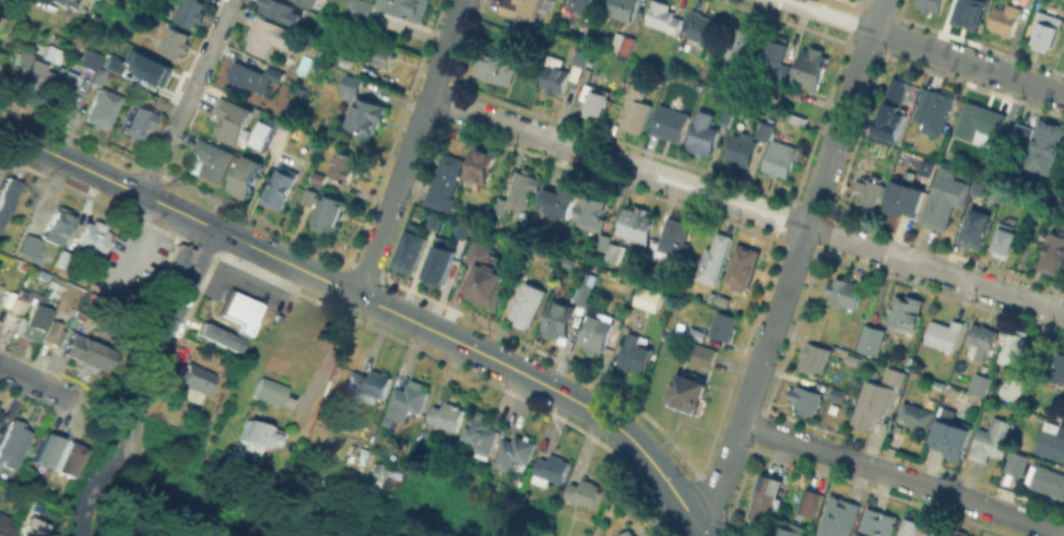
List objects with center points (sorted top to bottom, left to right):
building: (310, 3)
building: (68, 4)
building: (580, 4)
building: (933, 5)
building: (407, 9)
building: (624, 10)
building: (282, 11)
building: (191, 12)
building: (360, 12)
building: (528, 12)
building: (967, 13)
building: (663, 20)
building: (1005, 20)
building: (1047, 28)
building: (701, 33)
building: (271, 37)
building: (175, 43)
building: (741, 44)
building: (628, 47)
road: (924, 47)
building: (56, 55)
building: (379, 55)
building: (91, 60)
building: (776, 61)
building: (115, 65)
building: (813, 69)
building: (498, 70)
building: (154, 71)
building: (25, 72)
building: (564, 73)
building: (256, 79)
building: (348, 83)
building: (60, 91)
building: (796, 93)
road: (187, 97)
building: (595, 100)
building: (895, 106)
building: (103, 109)
building: (637, 111)
building: (937, 111)
building: (729, 116)
building: (366, 117)
building: (234, 120)
building: (799, 120)
building: (981, 121)
building: (138, 123)
building: (671, 124)
building: (267, 133)
building: (704, 134)
building: (1024, 134)
building: (748, 145)
building: (1044, 146)
road: (410, 147)
building: (781, 160)
building: (211, 165)
building: (341, 166)
building: (482, 166)
building: (1062, 174)
road: (108, 178)
building: (248, 178)
building: (319, 181)
building: (445, 182)
building: (282, 189)
building: (871, 189)
building: (524, 190)
building: (8, 196)
building: (905, 198)
building: (945, 199)
building: (309, 200)
building: (559, 203)
building: (498, 205)
road: (745, 206)
building: (594, 212)
building: (328, 216)
building: (433, 219)
building: (1063, 219)
building: (639, 225)
building: (59, 226)
building: (978, 226)
building: (459, 228)
building: (1006, 239)
building: (91, 242)
building: (671, 242)
building: (29, 248)
building: (409, 248)
building: (613, 251)
building: (1054, 255)
building: (63, 260)
building: (437, 261)
building: (714, 261)
road: (794, 262)
building: (177, 267)
building: (743, 269)
building: (487, 278)
road: (193, 279)
building: (52, 286)
building: (0, 289)
building: (847, 293)
building: (586, 296)
building: (648, 298)
building: (19, 305)
building: (527, 309)
building: (236, 311)
building: (906, 312)
building: (35, 318)
building: (560, 319)
building: (10, 323)
building: (724, 327)
building: (54, 333)
building: (596, 334)
building: (698, 335)
building: (944, 335)
building: (220, 338)
building: (872, 340)
building: (982, 342)
building: (1015, 347)
building: (83, 352)
road: (483, 353)
building: (637, 354)
building: (704, 356)
road: (329, 359)
building: (815, 359)
building: (1057, 367)
building: (895, 376)
road: (35, 381)
building: (199, 383)
building: (981, 384)
building: (370, 386)
building: (1012, 386)
building: (838, 392)
building: (271, 393)
building: (689, 395)
building: (807, 400)
road: (141, 402)
building: (407, 403)
building: (871, 405)
building: (0, 413)
building: (448, 416)
building: (917, 416)
building: (954, 433)
building: (258, 437)
building: (482, 437)
building: (993, 440)
building: (1052, 441)
building: (14, 445)
building: (46, 449)
building: (516, 456)
building: (67, 457)
building: (1017, 463)
building: (551, 467)
building: (371, 474)
road: (902, 477)
road: (681, 479)
building: (1049, 481)
road: (105, 484)
building: (587, 493)
building: (766, 496)
building: (811, 503)
road: (177, 511)
building: (839, 516)
building: (878, 524)
building: (915, 526)
building: (36, 529)
building: (7, 531)
building: (790, 531)
building: (956, 532)
building: (630, 534)

